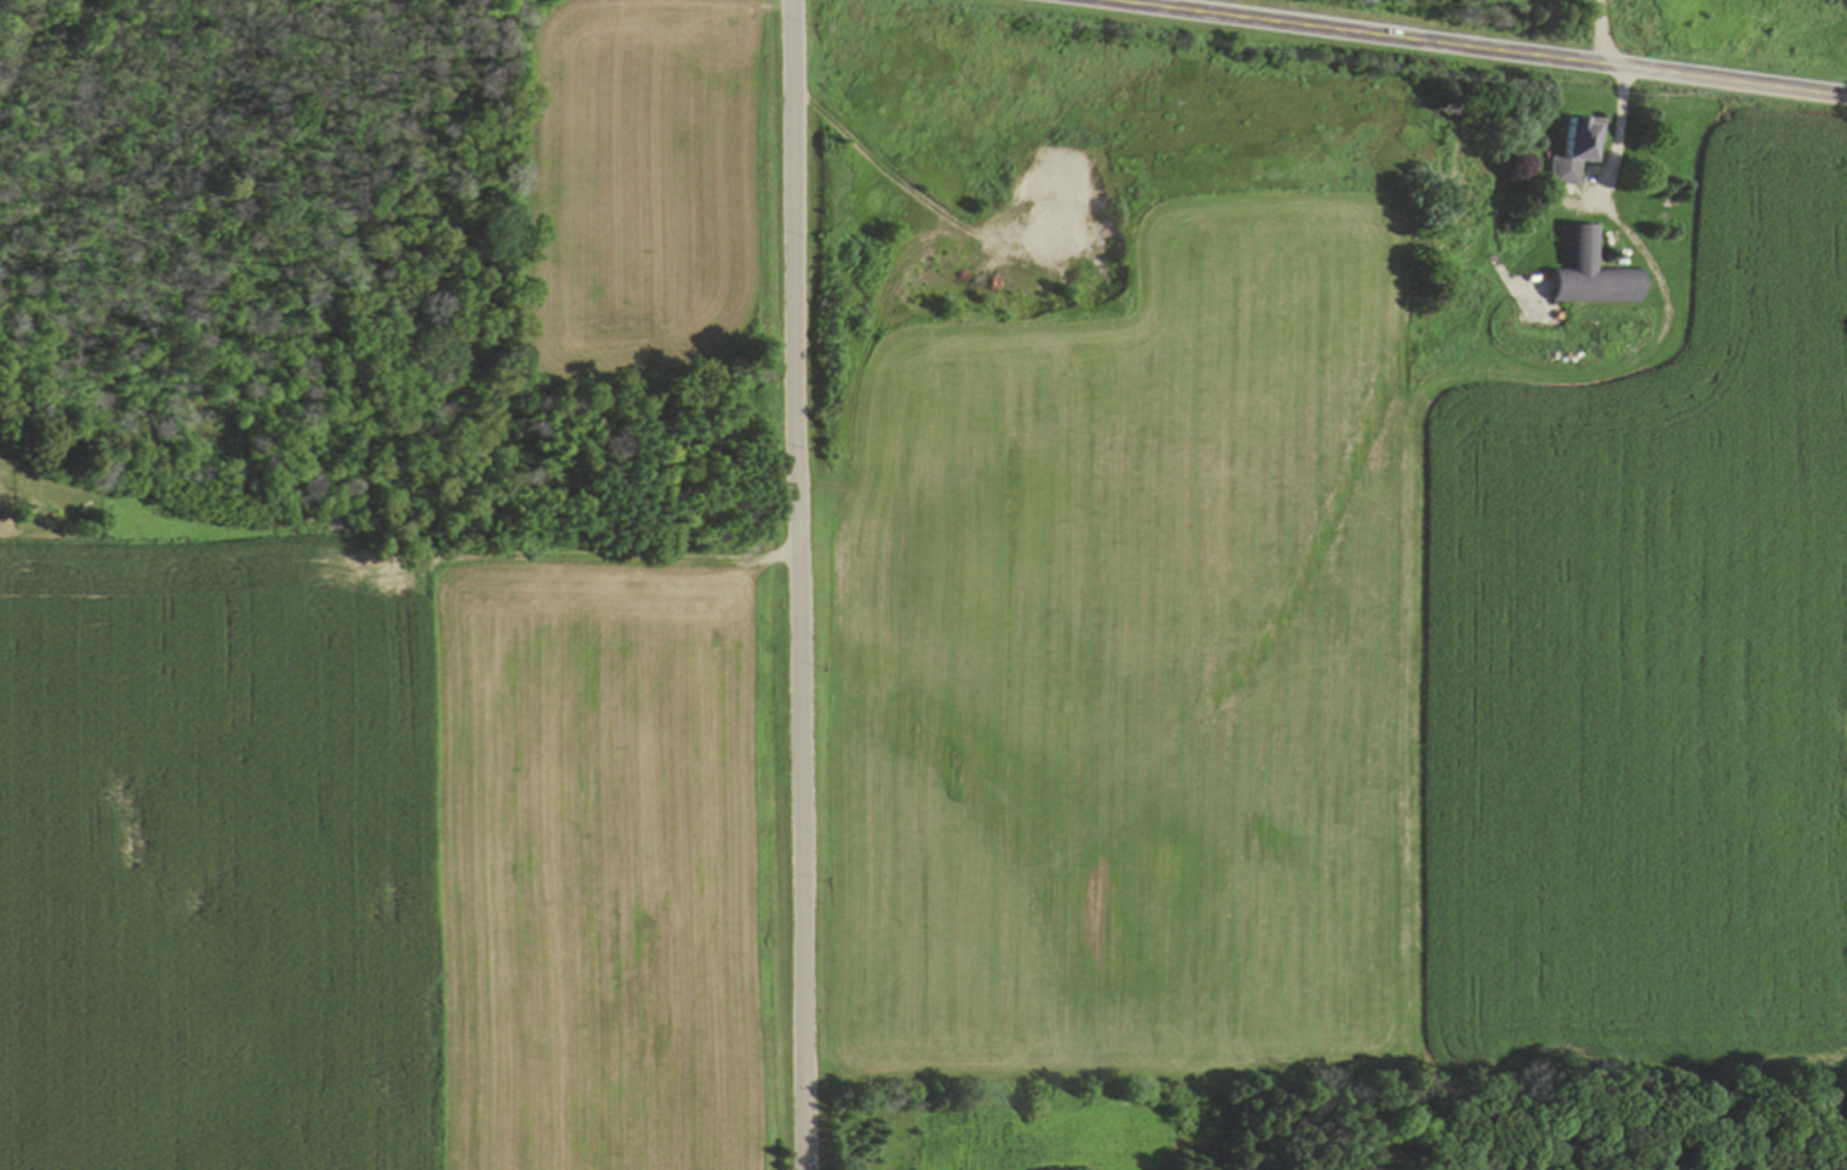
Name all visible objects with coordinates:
road: (1477, 47)
building: (1577, 149)
building: (1592, 273)
road: (799, 584)

